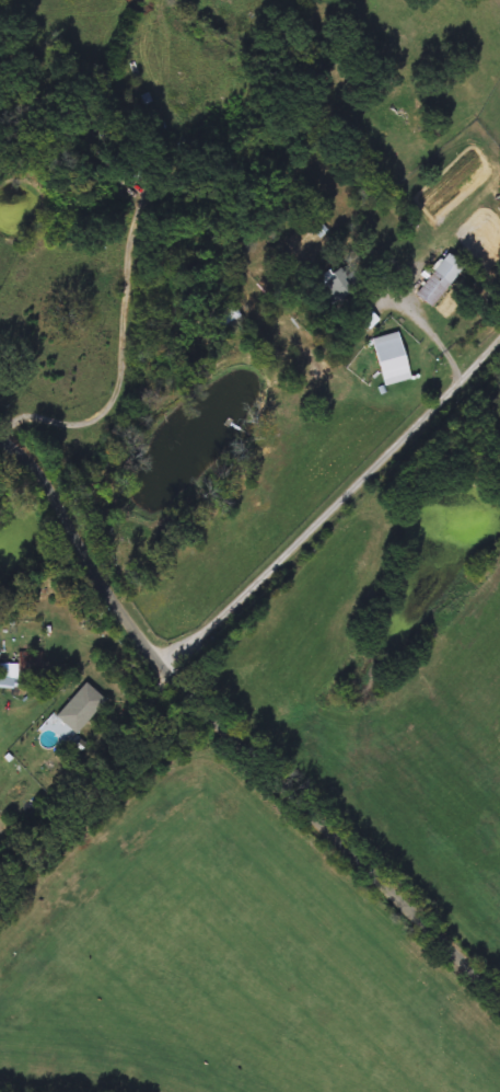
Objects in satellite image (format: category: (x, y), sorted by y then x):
building: (173, 118)
building: (435, 281)
building: (334, 284)
road: (441, 344)
building: (389, 357)
road: (334, 503)
road: (70, 605)
building: (30, 664)
building: (85, 701)
road: (231, 731)

